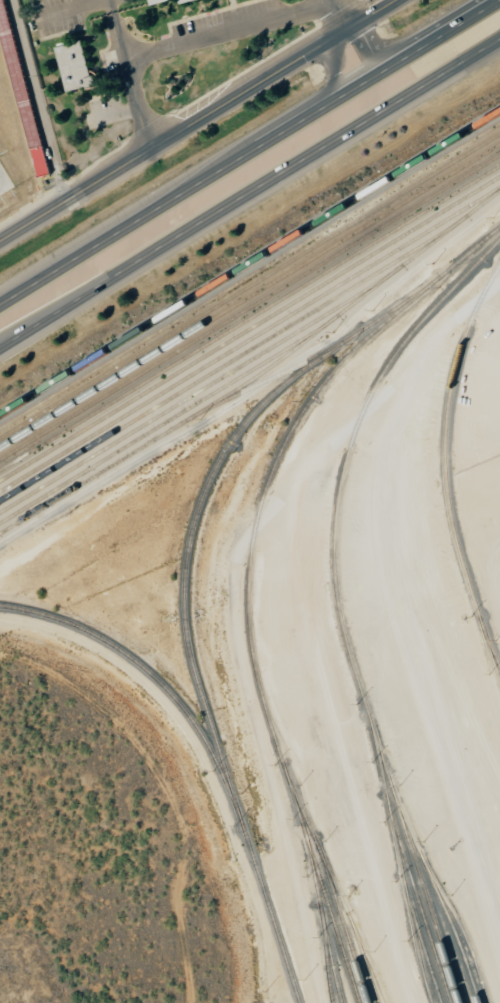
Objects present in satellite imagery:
building: (188, 1)
building: (160, 2)
road: (337, 16)
road: (227, 28)
road: (370, 47)
building: (75, 67)
road: (335, 71)
road: (130, 74)
road: (197, 120)
road: (249, 153)
building: (42, 163)
building: (2, 190)
road: (249, 191)
railway: (250, 263)
railway: (250, 275)
railway: (250, 285)
railway: (249, 296)
railway: (250, 309)
railway: (249, 316)
railway: (249, 327)
railway: (250, 338)
railway: (227, 362)
railway: (258, 374)
railway: (275, 376)
railway: (209, 384)
railway: (164, 421)
railway: (345, 462)
railway: (276, 463)
railway: (446, 465)
road: (236, 595)
railway: (185, 599)
railway: (492, 654)
railway: (148, 672)
road: (201, 758)
railway: (427, 866)
railway: (401, 867)
railway: (339, 892)
railway: (324, 893)
railway: (427, 898)
railway: (421, 910)
railway: (324, 922)
railway: (344, 926)
railway: (462, 928)
railway: (423, 947)
railway: (327, 959)
railway: (366, 965)

